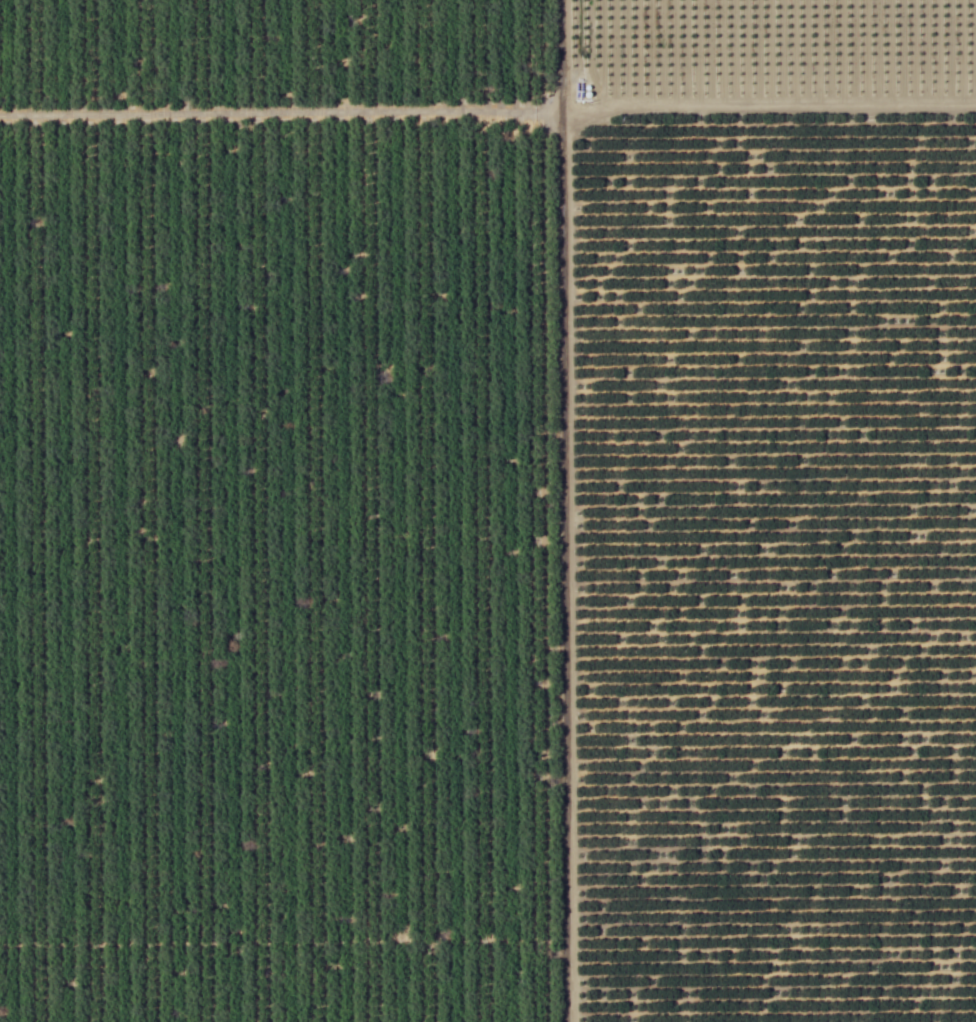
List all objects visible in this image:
road: (572, 511)

